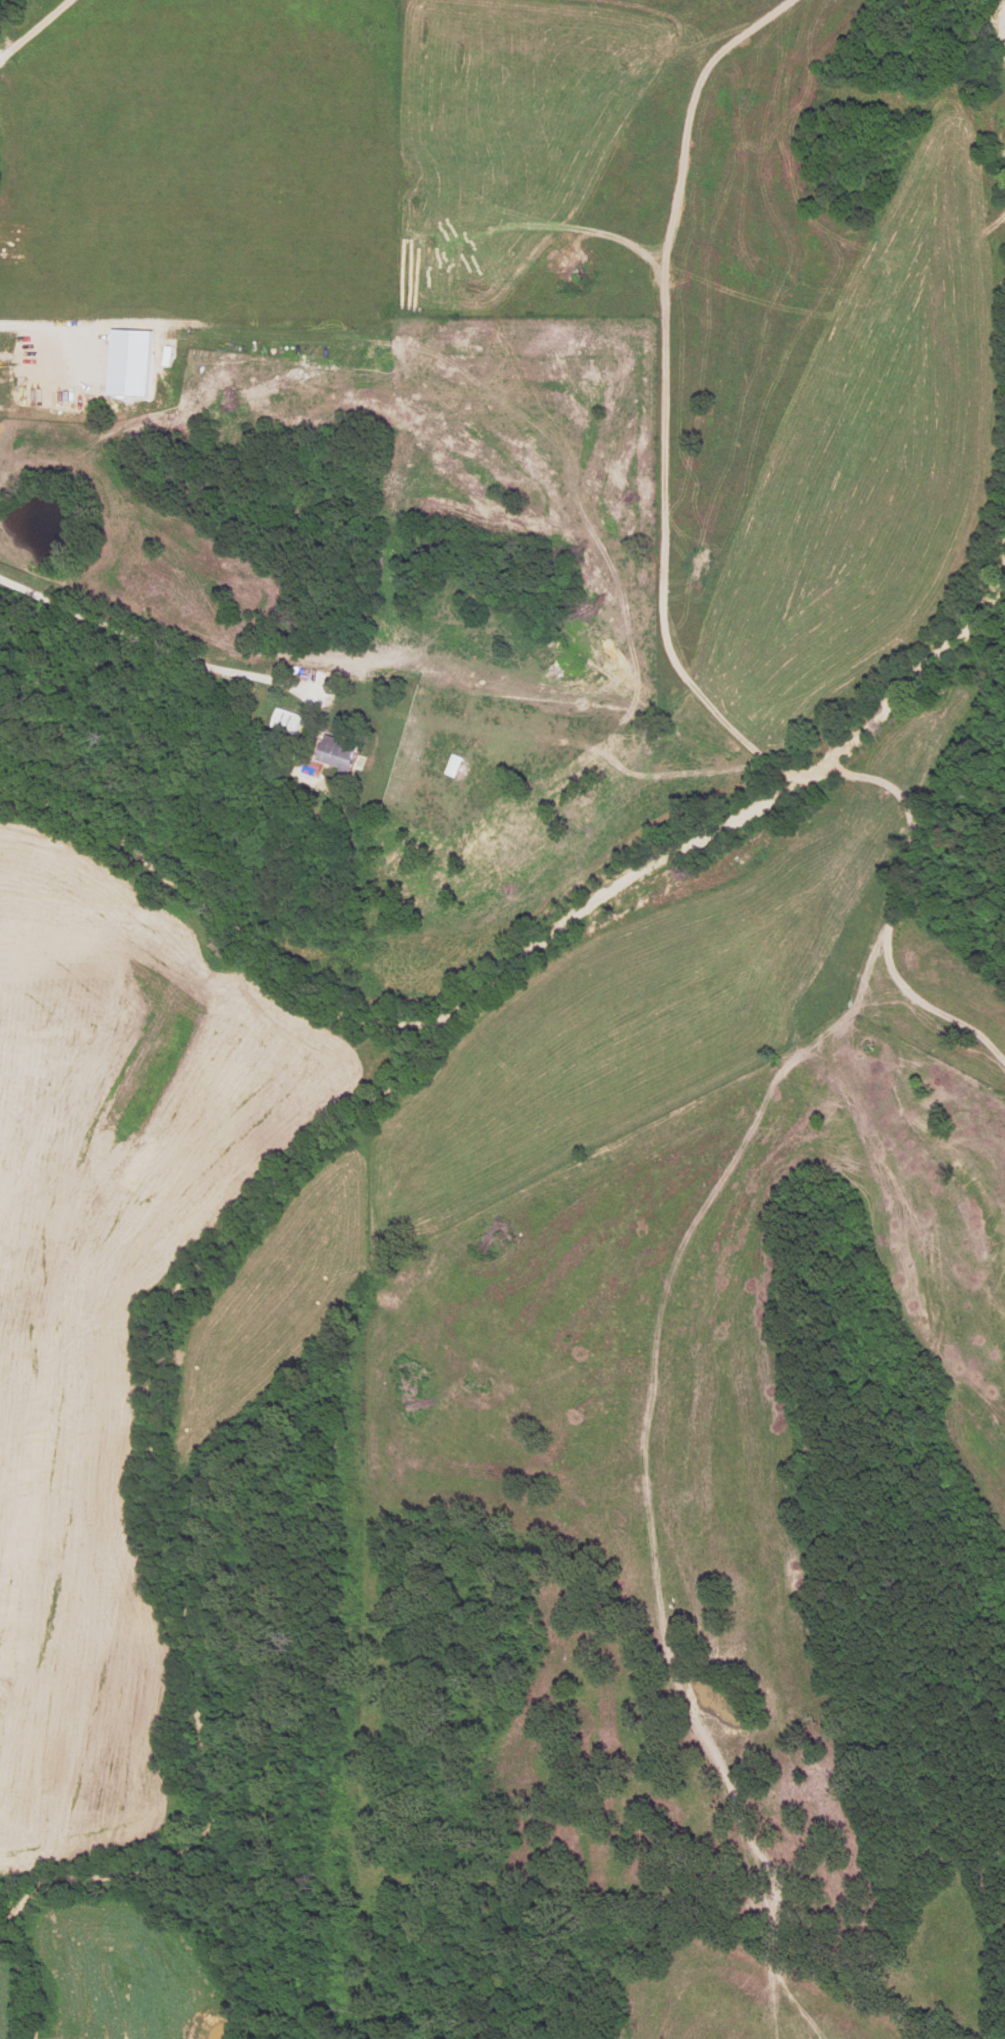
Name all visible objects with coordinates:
building: (167, 357)
building: (129, 364)
road: (155, 644)
building: (287, 723)
building: (336, 755)

